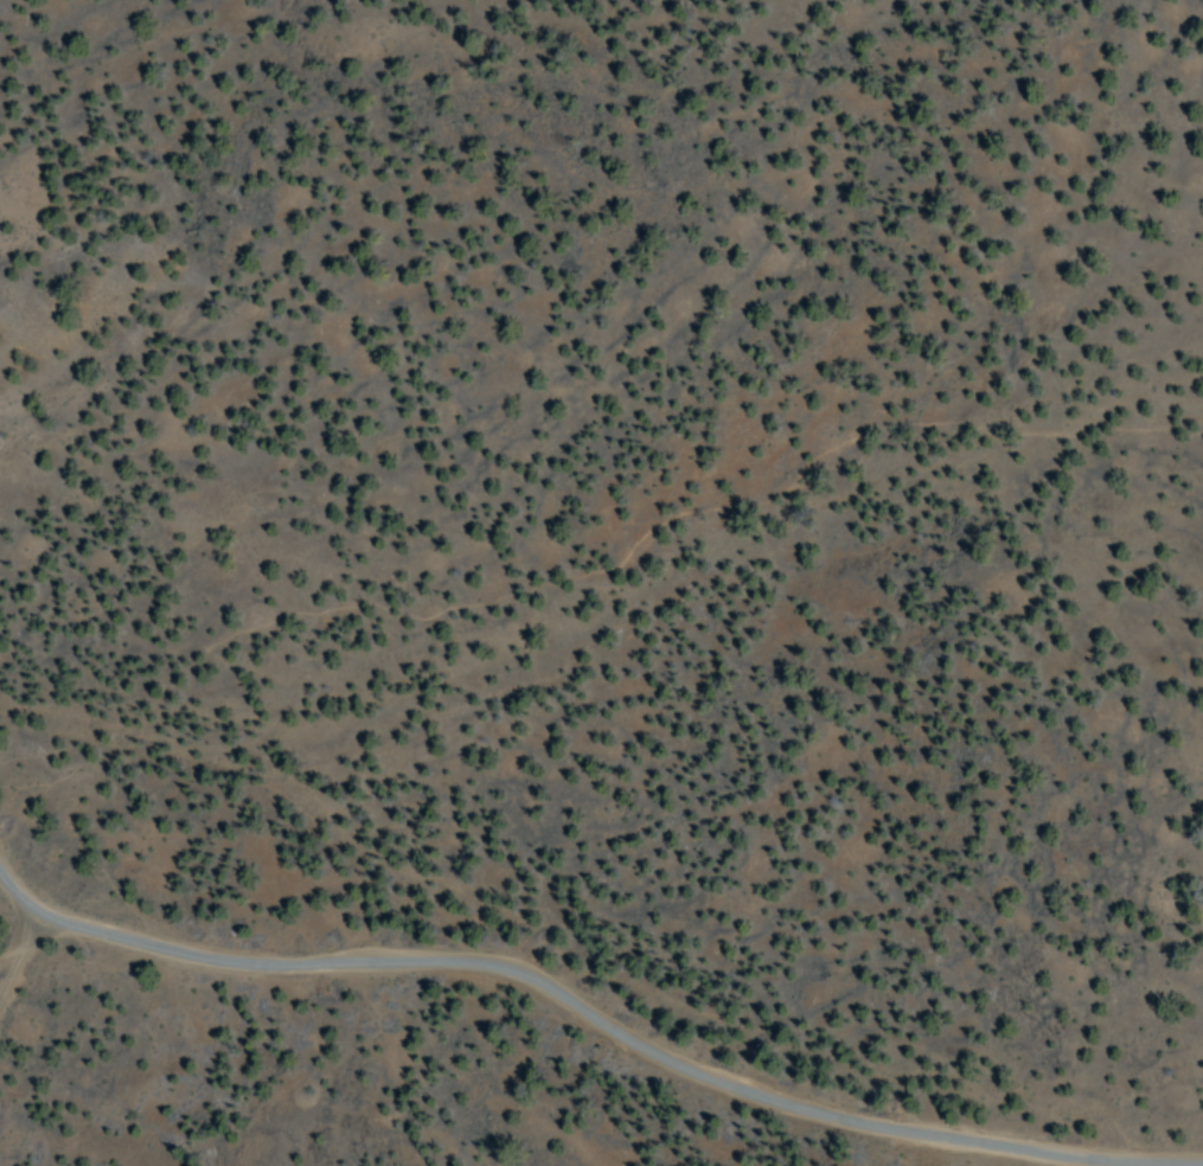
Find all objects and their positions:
road: (18, 960)
road: (570, 1007)

